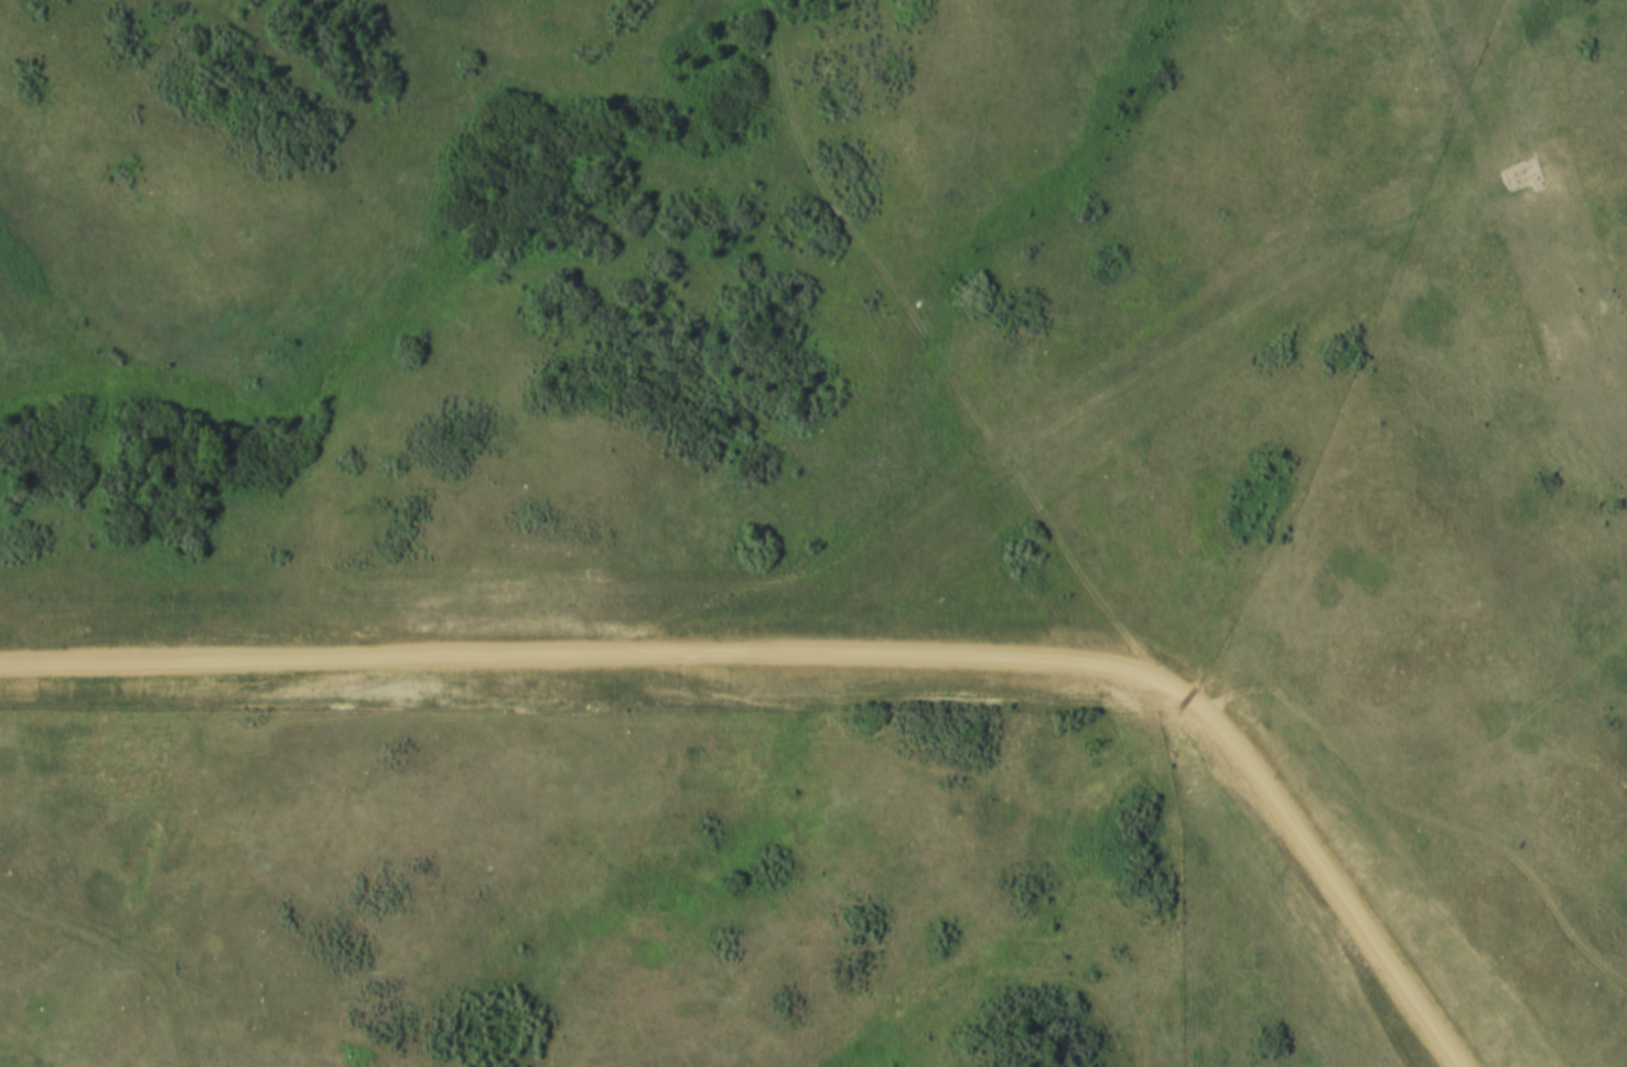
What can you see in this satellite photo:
road: (818, 694)
road: (1439, 823)
road: (121, 955)

